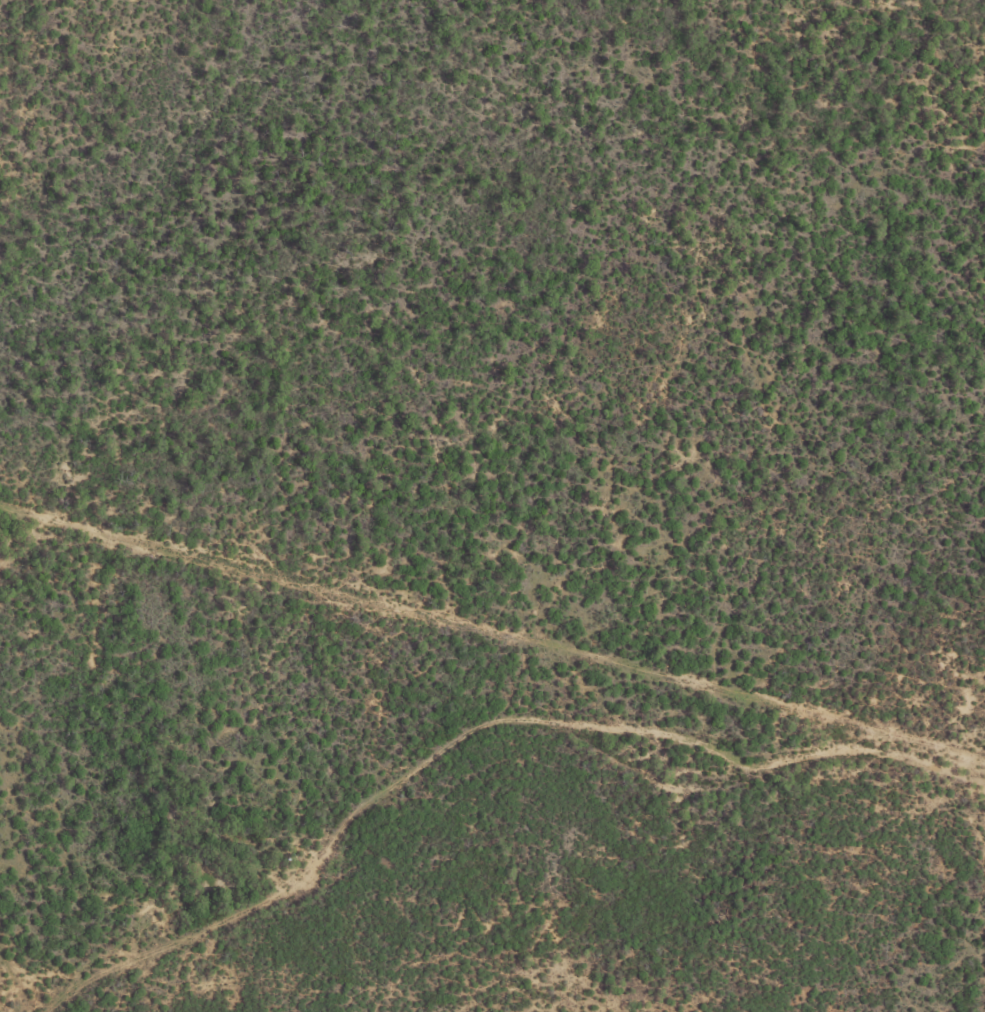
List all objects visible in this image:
road: (505, 718)

